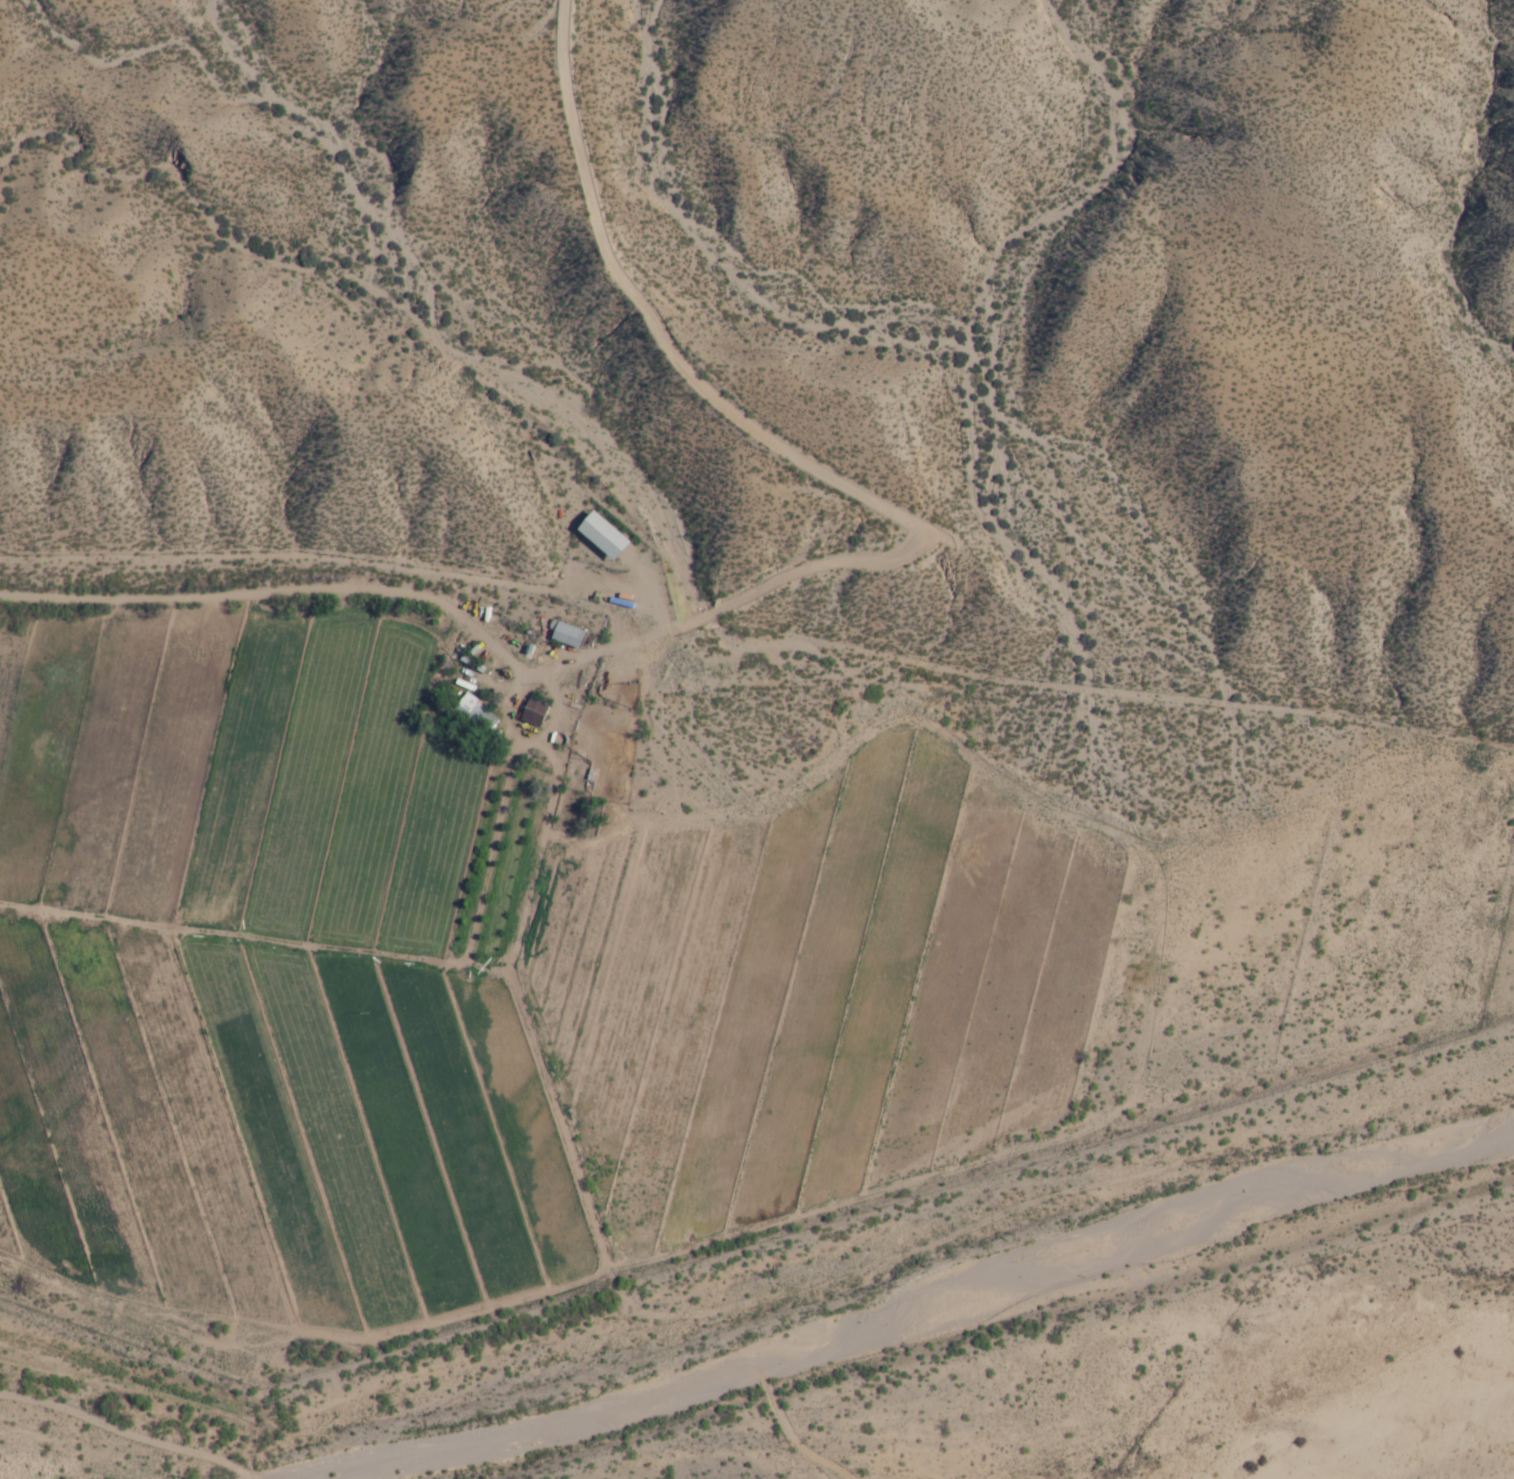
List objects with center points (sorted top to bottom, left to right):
building: (605, 535)
road: (787, 586)
building: (568, 635)
road: (479, 638)
road: (574, 1046)
road: (443, 1438)

